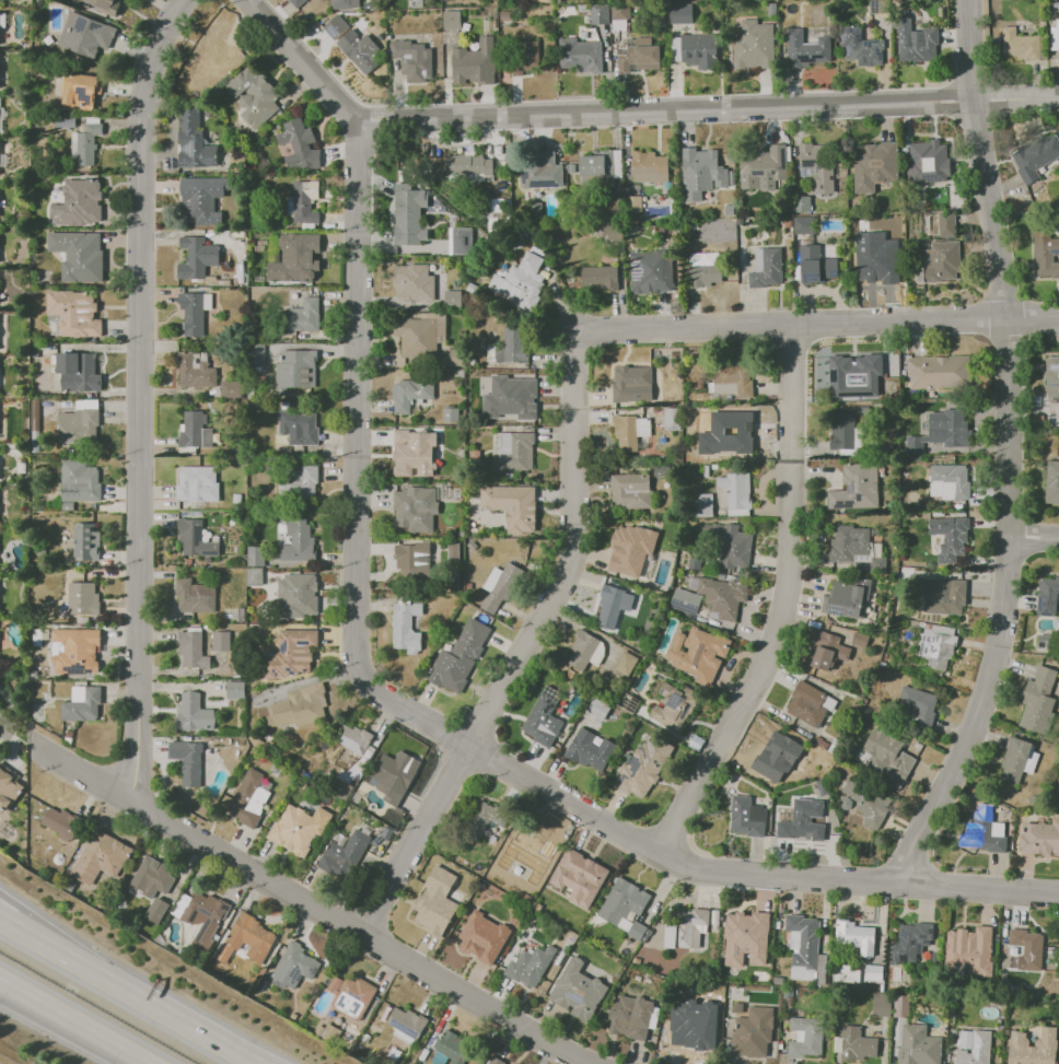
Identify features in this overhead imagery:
building: (296, 3)
building: (344, 3)
building: (104, 4)
building: (619, 11)
building: (600, 13)
building: (680, 13)
building: (451, 20)
rooftop solar panel: (79, 24)
rooftop solar panel: (92, 26)
rooftop solar panel: (850, 27)
rooftop solar panel: (333, 31)
building: (84, 36)
rooftop solar panel: (843, 37)
rooftop solar panel: (858, 37)
building: (1055, 38)
building: (920, 42)
building: (354, 44)
rooftop solar panel: (868, 44)
building: (1020, 44)
building: (862, 45)
building: (754, 46)
building: (808, 49)
rooftop solar panel: (850, 49)
building: (700, 50)
rooftop solar panel: (878, 54)
building: (580, 55)
building: (524, 56)
building: (641, 57)
building: (213, 59)
building: (412, 59)
rooftop solar panel: (808, 59)
building: (477, 60)
building: (80, 92)
rooftop solar panel: (81, 95)
building: (253, 96)
road: (627, 115)
building: (194, 142)
building: (86, 144)
building: (296, 144)
rooftop solar panel: (187, 148)
building: (1035, 155)
rooftop solar panel: (208, 161)
rooftop solar panel: (182, 162)
building: (932, 162)
building: (761, 165)
building: (818, 165)
building: (467, 167)
building: (594, 167)
building: (649, 167)
building: (708, 167)
building: (537, 169)
building: (876, 169)
rooftop solar panel: (759, 173)
building: (202, 200)
building: (306, 202)
building: (79, 203)
building: (801, 203)
building: (409, 222)
building: (945, 223)
building: (804, 225)
building: (459, 241)
rooftop solar panel: (1058, 252)
building: (1045, 254)
building: (78, 255)
building: (197, 257)
building: (295, 258)
building: (817, 261)
building: (939, 262)
building: (768, 267)
building: (877, 268)
building: (707, 271)
building: (651, 272)
building: (601, 279)
building: (522, 281)
building: (412, 282)
building: (453, 297)
building: (75, 313)
building: (193, 313)
building: (305, 315)
road: (816, 329)
building: (418, 337)
building: (512, 347)
rooftop solar panel: (1052, 366)
building: (196, 370)
building: (301, 370)
building: (79, 372)
building: (938, 372)
building: (853, 375)
building: (1051, 375)
building: (734, 376)
building: (631, 384)
rooftop solar panel: (1051, 384)
building: (722, 387)
building: (230, 389)
building: (410, 394)
building: (516, 396)
road: (141, 400)
road: (359, 402)
building: (80, 426)
building: (300, 428)
building: (197, 431)
building: (842, 431)
building: (941, 431)
building: (631, 433)
road: (1006, 451)
building: (1058, 451)
building: (514, 452)
building: (412, 457)
building: (80, 481)
building: (949, 481)
building: (1051, 481)
building: (198, 484)
building: (303, 486)
building: (856, 488)
building: (630, 491)
building: (735, 492)
building: (512, 504)
building: (703, 505)
building: (416, 507)
rooftop solar panel: (195, 536)
building: (949, 538)
road: (1034, 538)
building: (198, 539)
building: (298, 541)
building: (88, 543)
building: (732, 547)
building: (853, 547)
building: (630, 549)
rooftop solar panel: (206, 552)
building: (255, 556)
building: (414, 557)
building: (254, 576)
building: (501, 586)
building: (300, 593)
building: (196, 596)
building: (722, 596)
building: (1047, 596)
building: (944, 597)
building: (84, 598)
building: (846, 598)
building: (685, 600)
building: (612, 606)
road: (789, 608)
rooftop solar panel: (833, 610)
rooftop solar panel: (839, 611)
rooftop solar panel: (848, 612)
building: (406, 625)
building: (220, 641)
building: (1046, 641)
building: (582, 650)
building: (75, 651)
building: (194, 651)
road: (524, 651)
building: (826, 651)
building: (295, 652)
building: (698, 653)
building: (461, 656)
building: (625, 663)
building: (234, 689)
rooftop solar panel: (673, 700)
building: (1037, 701)
building: (917, 703)
building: (84, 704)
rooftop solar panel: (633, 704)
building: (808, 704)
building: (673, 706)
building: (294, 709)
rooftop solar panel: (683, 711)
building: (195, 713)
road: (24, 717)
building: (543, 717)
road: (4, 732)
building: (352, 738)
building: (590, 750)
rooftop solar panel: (642, 750)
building: (887, 757)
building: (771, 759)
building: (1016, 759)
building: (188, 762)
rooftop solar panel: (630, 764)
building: (642, 768)
building: (395, 772)
building: (757, 777)
rooftop solar panel: (620, 780)
building: (7, 788)
building: (249, 799)
building: (868, 803)
building: (746, 817)
building: (485, 818)
building: (802, 821)
building: (61, 822)
building: (299, 829)
building: (987, 832)
building: (1039, 838)
building: (536, 845)
building: (351, 851)
building: (98, 857)
road: (687, 867)
building: (583, 874)
building: (150, 878)
building: (624, 901)
rooftop solar panel: (224, 909)
road: (312, 909)
building: (154, 910)
building: (433, 912)
rooftop solar panel: (193, 913)
rooftop solar panel: (205, 913)
road: (26, 915)
building: (205, 916)
building: (752, 925)
building: (686, 928)
road: (24, 929)
building: (856, 936)
building: (249, 937)
building: (805, 940)
building: (910, 943)
building: (479, 944)
building: (1027, 945)
building: (969, 950)
building: (293, 966)
building: (532, 968)
rooftop solar panel: (311, 970)
road: (97, 972)
rooftop solar panel: (293, 974)
building: (579, 992)
rooftop solar panel: (349, 994)
building: (350, 996)
rooftop solar panel: (575, 997)
rooftop solar panel: (353, 998)
rooftop solar panel: (337, 1002)
building: (881, 1004)
building: (900, 1006)
rooftop solar panel: (356, 1009)
building: (632, 1015)
road: (70, 1024)
building: (407, 1024)
rooftop solar panel: (403, 1028)
road: (201, 1032)
building: (753, 1032)
building: (691, 1033)
building: (805, 1037)
building: (857, 1043)
building: (919, 1045)
building: (456, 1048)
building: (1034, 1048)
building: (978, 1050)
building: (497, 1062)

